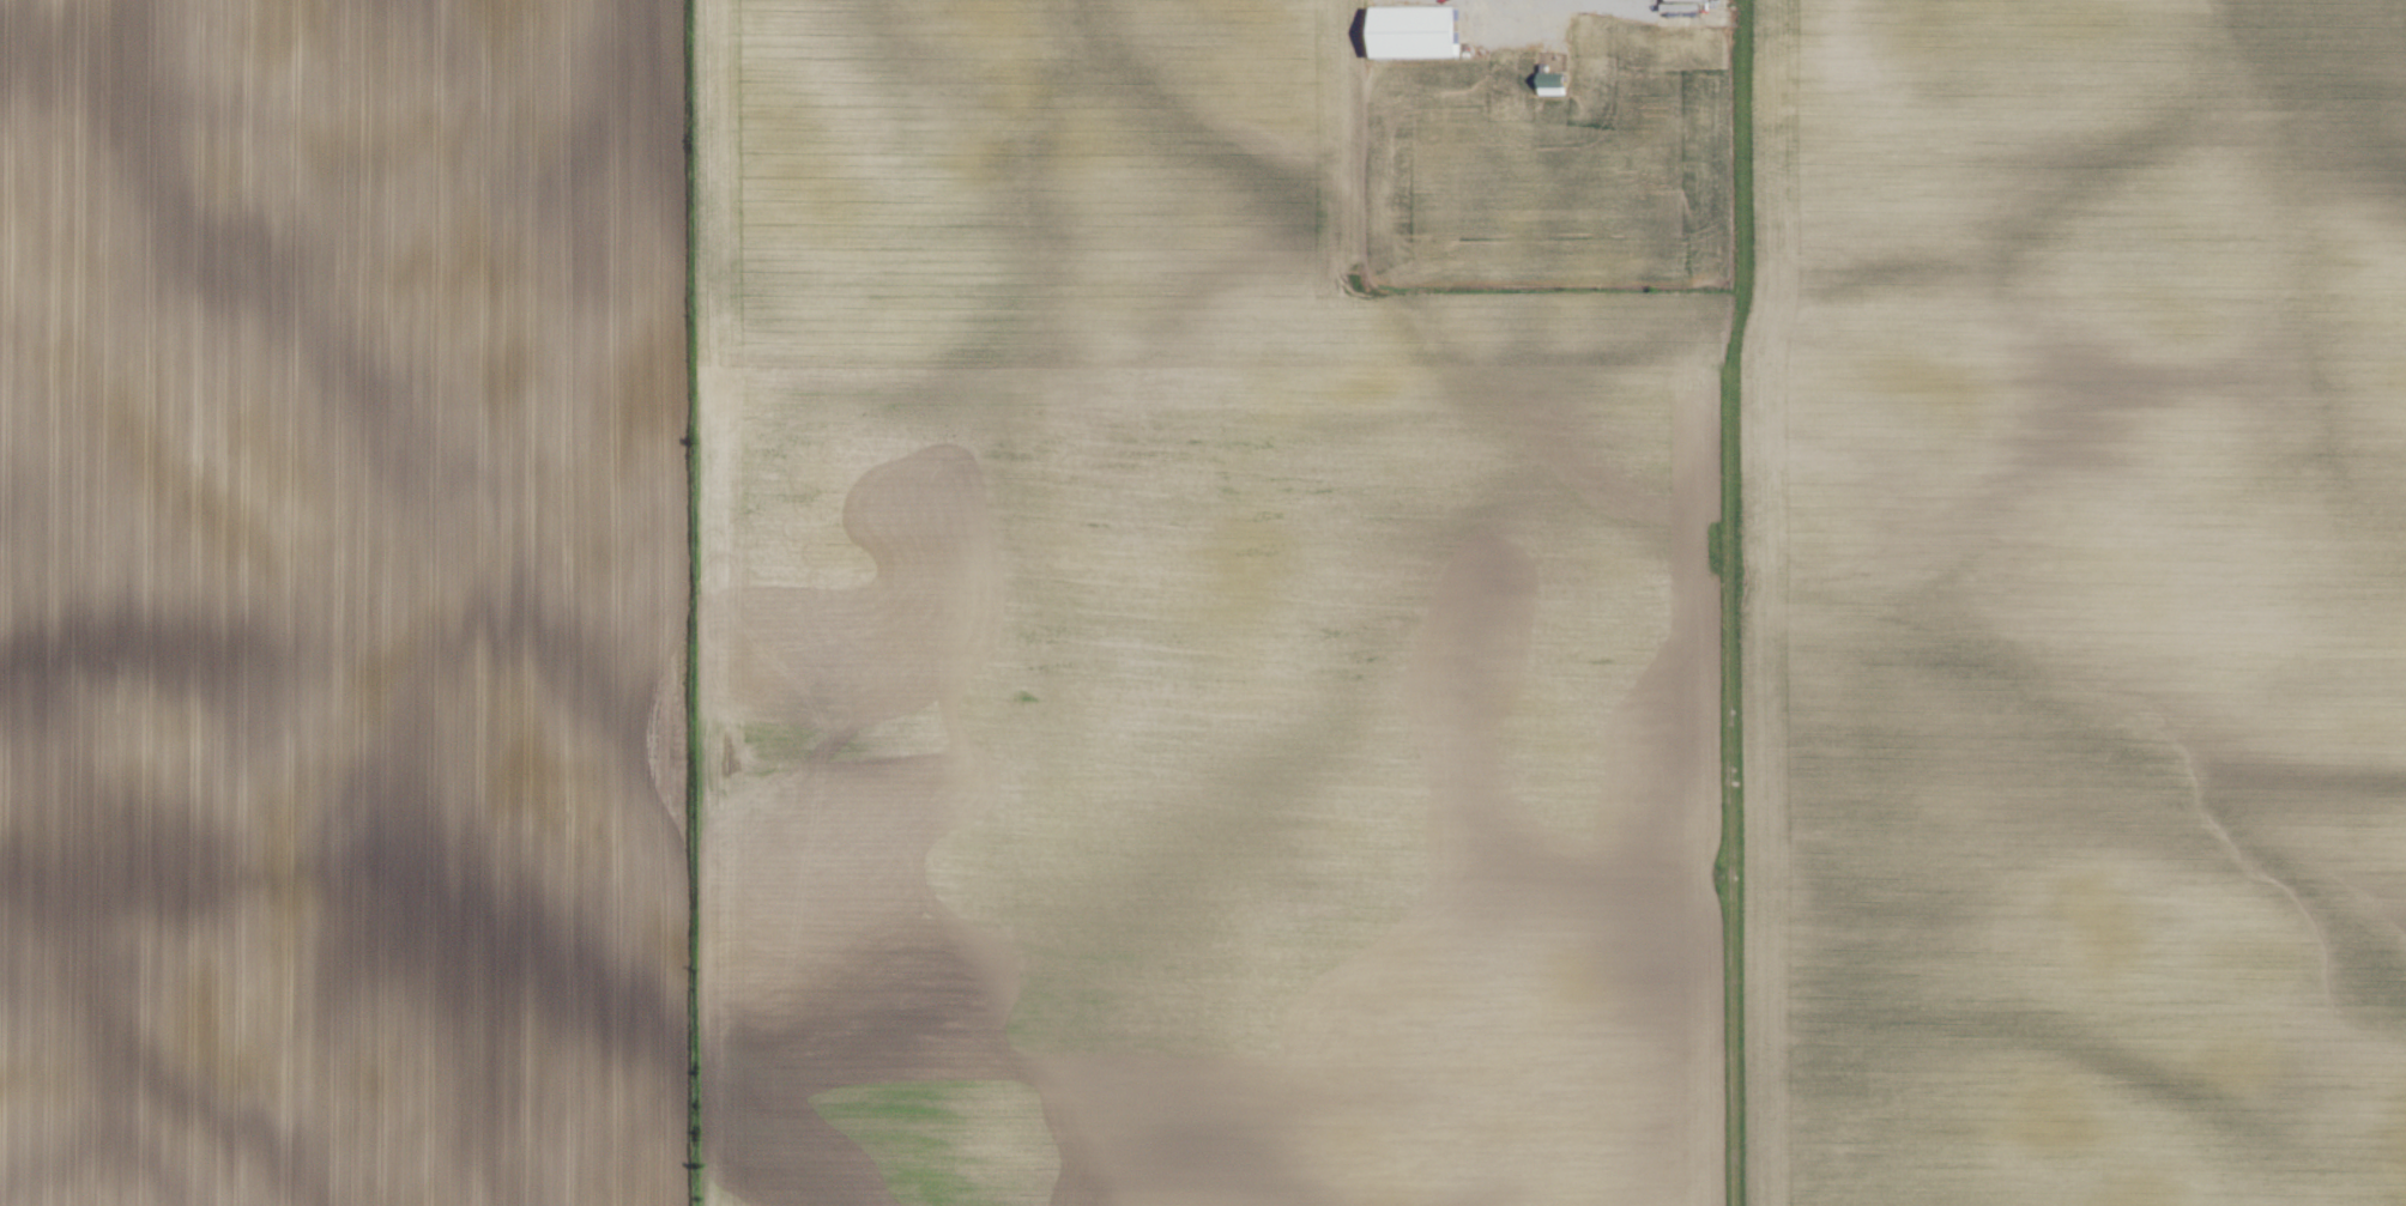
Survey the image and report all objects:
building: (1685, 1)
road: (1548, 6)
building: (1409, 35)
road: (1736, 745)

